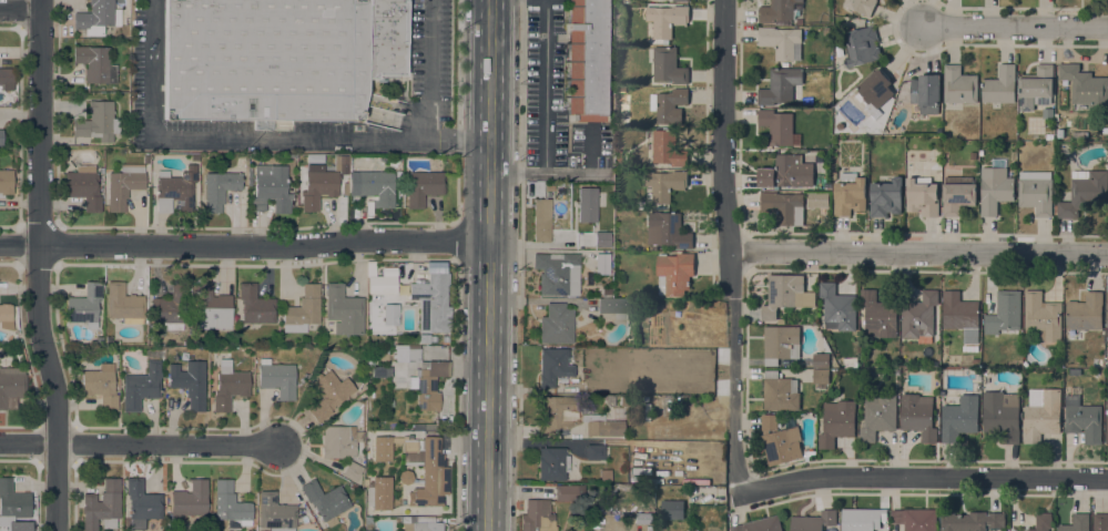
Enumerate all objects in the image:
building: (681, 0)
building: (862, 6)
road: (20, 8)
building: (780, 11)
building: (96, 18)
building: (667, 20)
road: (1016, 27)
building: (385, 38)
building: (781, 42)
building: (861, 45)
building: (264, 60)
building: (583, 60)
building: (95, 64)
building: (668, 67)
road: (413, 70)
building: (6, 80)
road: (520, 80)
building: (959, 85)
building: (781, 86)
building: (1000, 86)
building: (1086, 86)
building: (1036, 88)
building: (621, 89)
building: (875, 93)
building: (925, 93)
building: (669, 105)
building: (1047, 113)
road: (545, 115)
building: (96, 123)
building: (779, 127)
building: (1, 137)
road: (251, 140)
building: (668, 150)
building: (338, 164)
building: (787, 173)
building: (248, 175)
building: (6, 183)
building: (664, 184)
building: (83, 186)
building: (123, 186)
building: (317, 186)
building: (376, 187)
building: (423, 187)
building: (270, 188)
building: (995, 188)
building: (218, 190)
building: (175, 191)
building: (1036, 192)
building: (1085, 193)
building: (848, 194)
building: (958, 194)
building: (886, 197)
building: (922, 197)
building: (586, 205)
building: (783, 206)
building: (541, 221)
building: (668, 229)
building: (600, 238)
road: (244, 245)
road: (728, 246)
road: (918, 253)
building: (601, 264)
road: (488, 265)
road: (38, 266)
building: (674, 273)
building: (556, 274)
building: (380, 279)
building: (782, 294)
building: (122, 303)
building: (431, 304)
building: (254, 305)
building: (84, 306)
building: (613, 306)
building: (837, 307)
building: (170, 308)
building: (211, 308)
building: (302, 310)
building: (343, 310)
building: (1004, 313)
building: (389, 314)
building: (1107, 314)
building: (878, 315)
building: (960, 315)
building: (1084, 315)
building: (6, 317)
building: (918, 317)
building: (1041, 317)
building: (555, 324)
building: (423, 338)
building: (435, 339)
building: (781, 343)
building: (413, 355)
building: (821, 360)
building: (850, 361)
building: (552, 366)
building: (1075, 371)
building: (821, 376)
building: (276, 379)
building: (189, 384)
building: (428, 385)
building: (100, 386)
building: (11, 387)
building: (140, 387)
building: (228, 388)
building: (780, 392)
building: (327, 395)
building: (1041, 413)
building: (1002, 415)
building: (877, 416)
building: (918, 416)
building: (572, 418)
building: (959, 418)
building: (1082, 419)
building: (1107, 421)
building: (837, 422)
building: (779, 441)
road: (28, 442)
building: (338, 442)
road: (167, 446)
building: (382, 449)
building: (593, 452)
building: (551, 464)
building: (426, 470)
building: (352, 471)
building: (606, 476)
road: (923, 476)
building: (379, 493)
building: (566, 493)
building: (187, 501)
building: (325, 501)
building: (141, 503)
building: (13, 504)
building: (101, 507)
building: (230, 507)
building: (672, 509)
building: (274, 513)
building: (536, 517)
building: (642, 519)
building: (862, 519)
building: (915, 519)
building: (814, 521)
building: (970, 521)
building: (1041, 522)
building: (1100, 522)
building: (367, 523)
building: (1076, 523)
building: (419, 524)
building: (759, 525)

